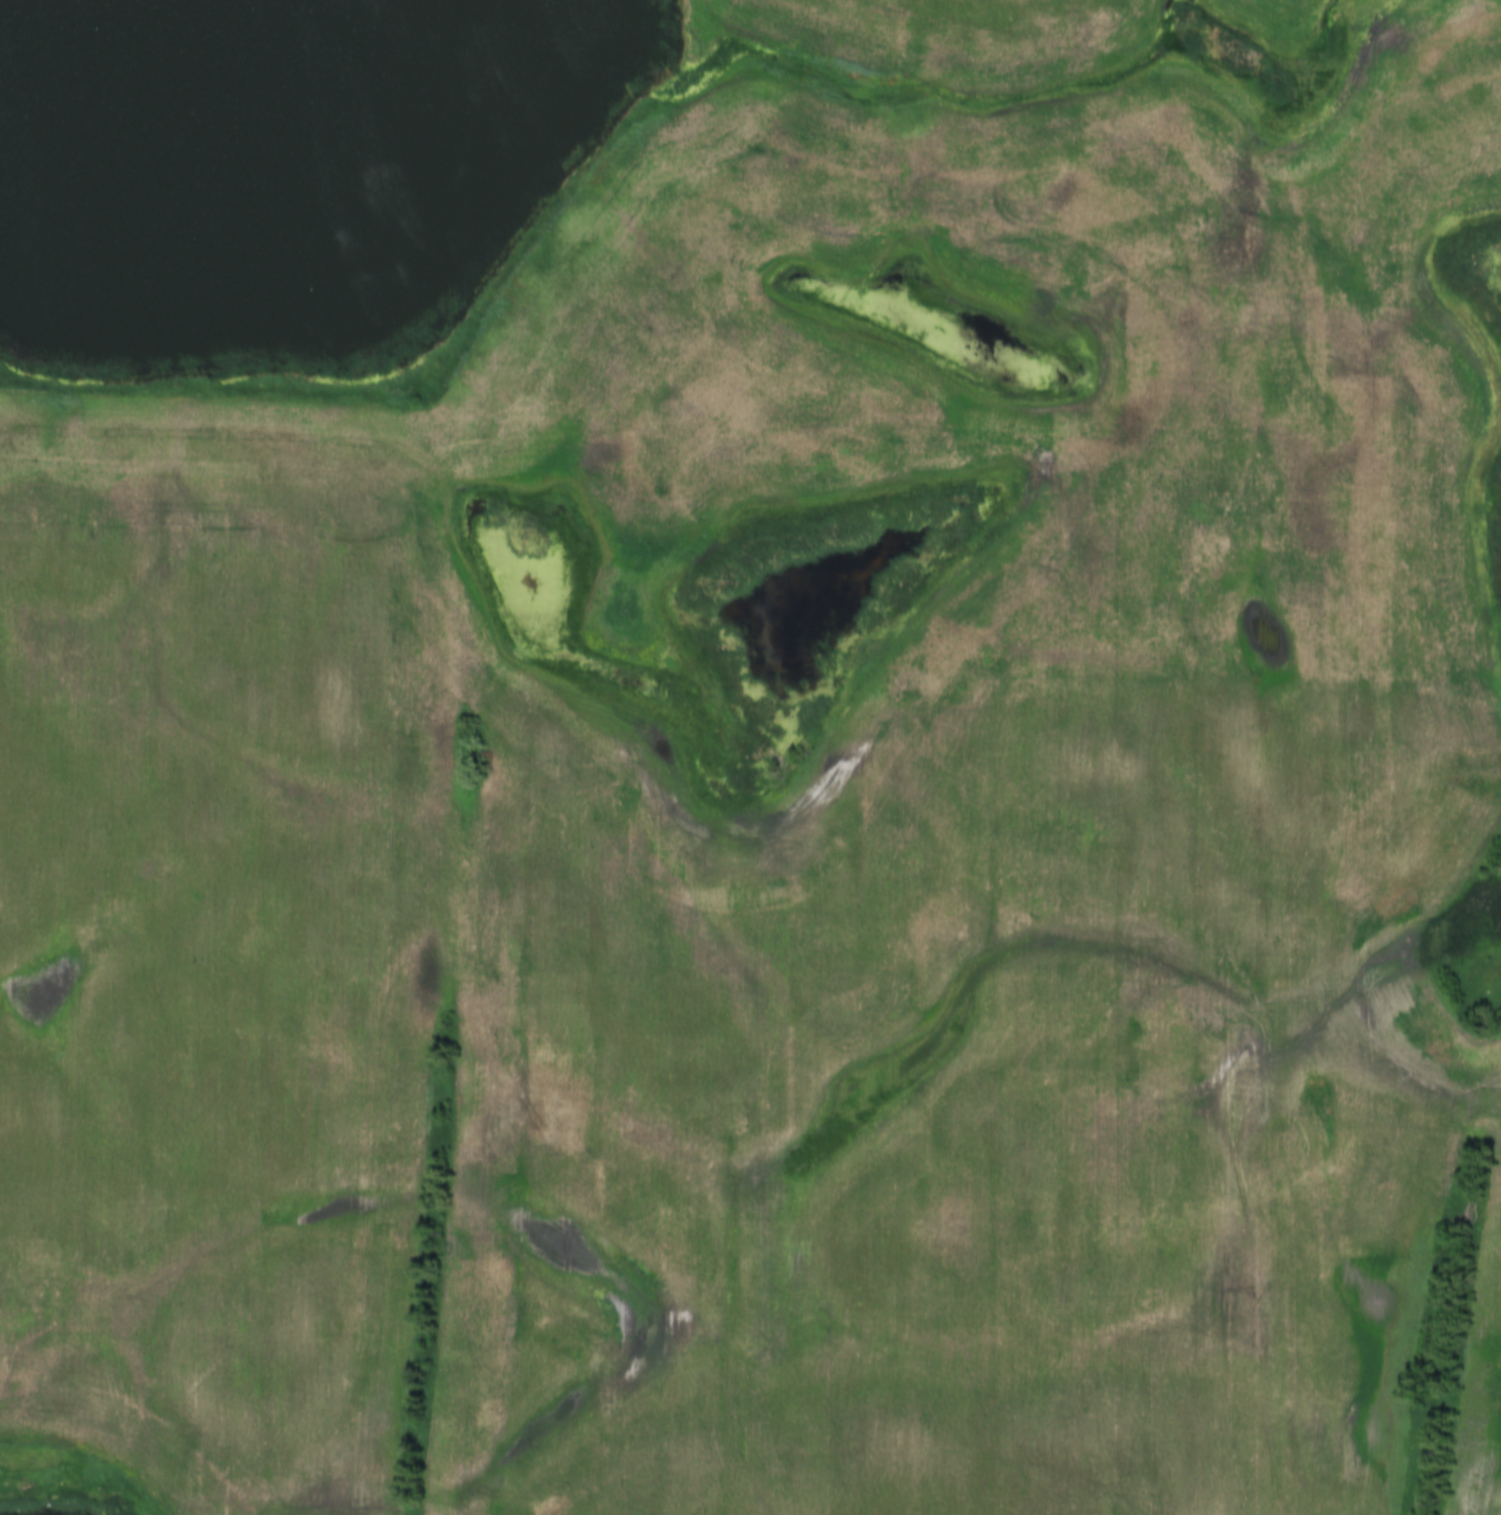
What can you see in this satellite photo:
road: (104, 1457)

